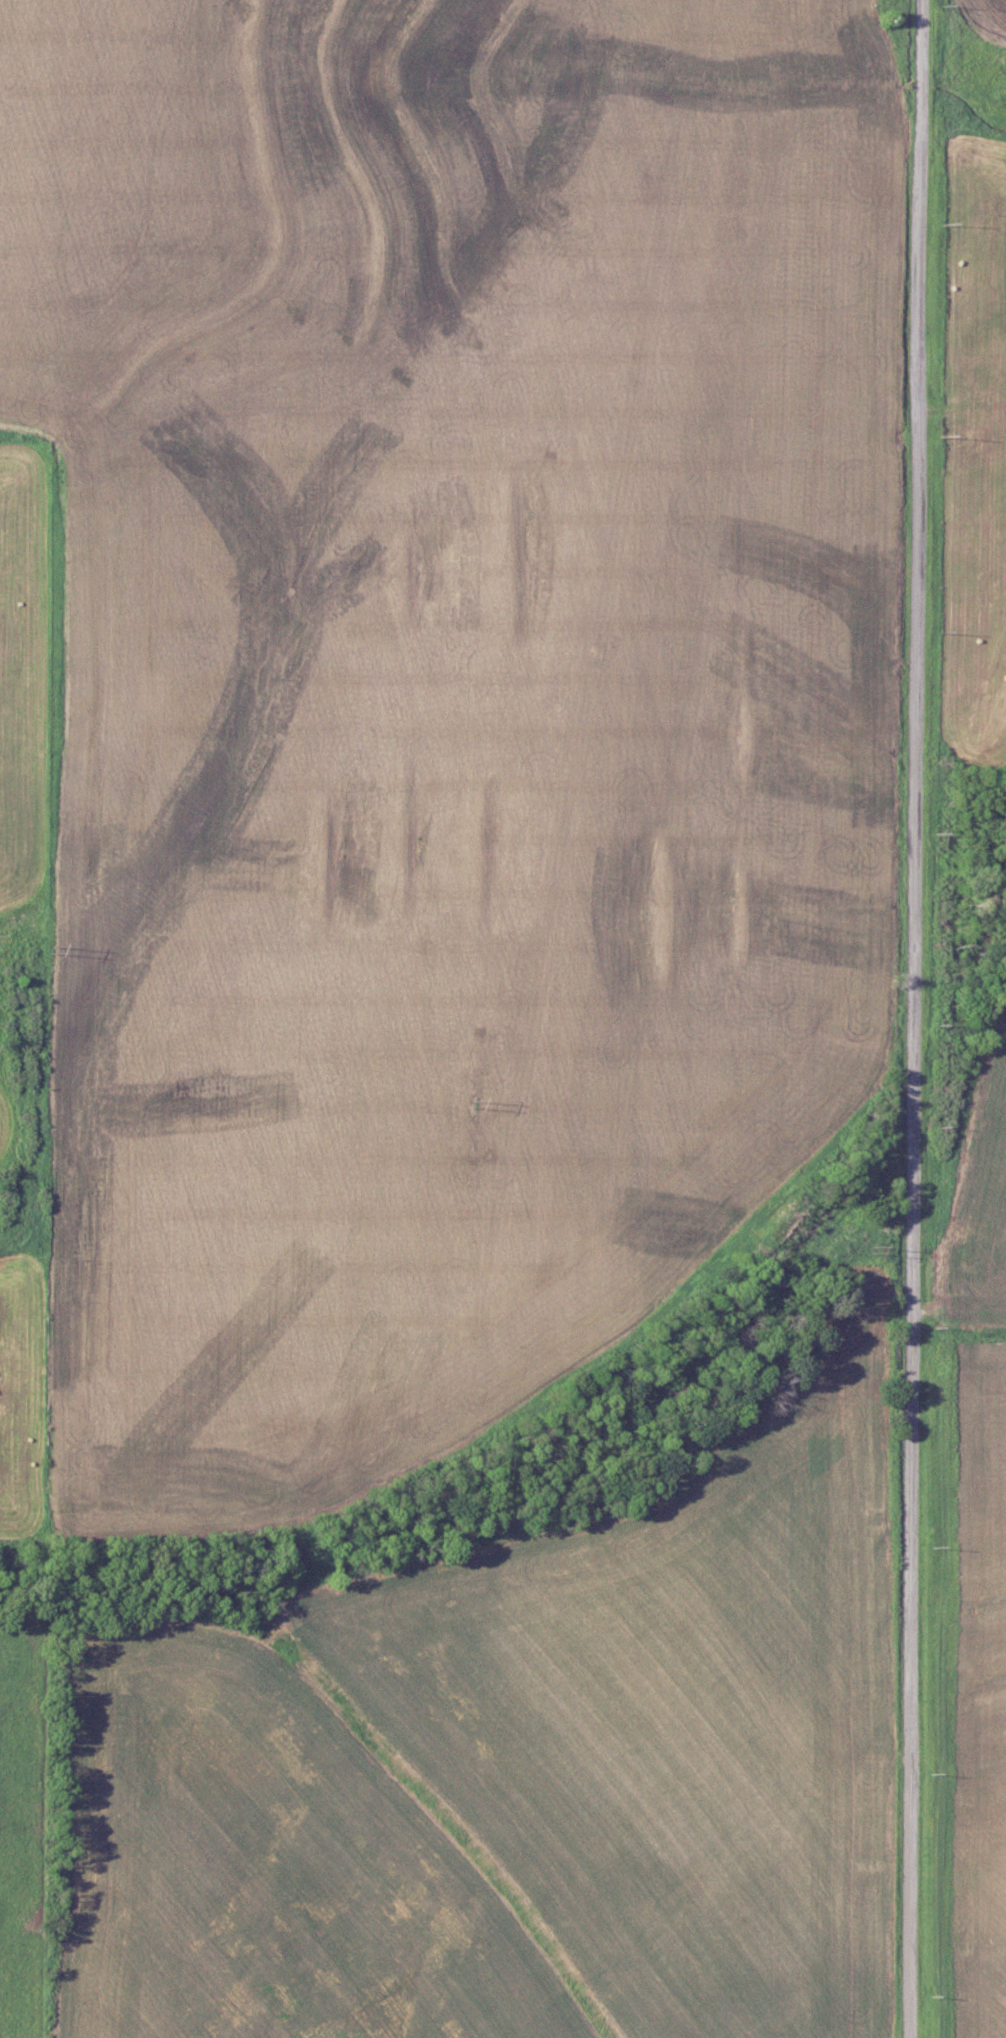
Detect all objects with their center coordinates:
road: (917, 1018)

